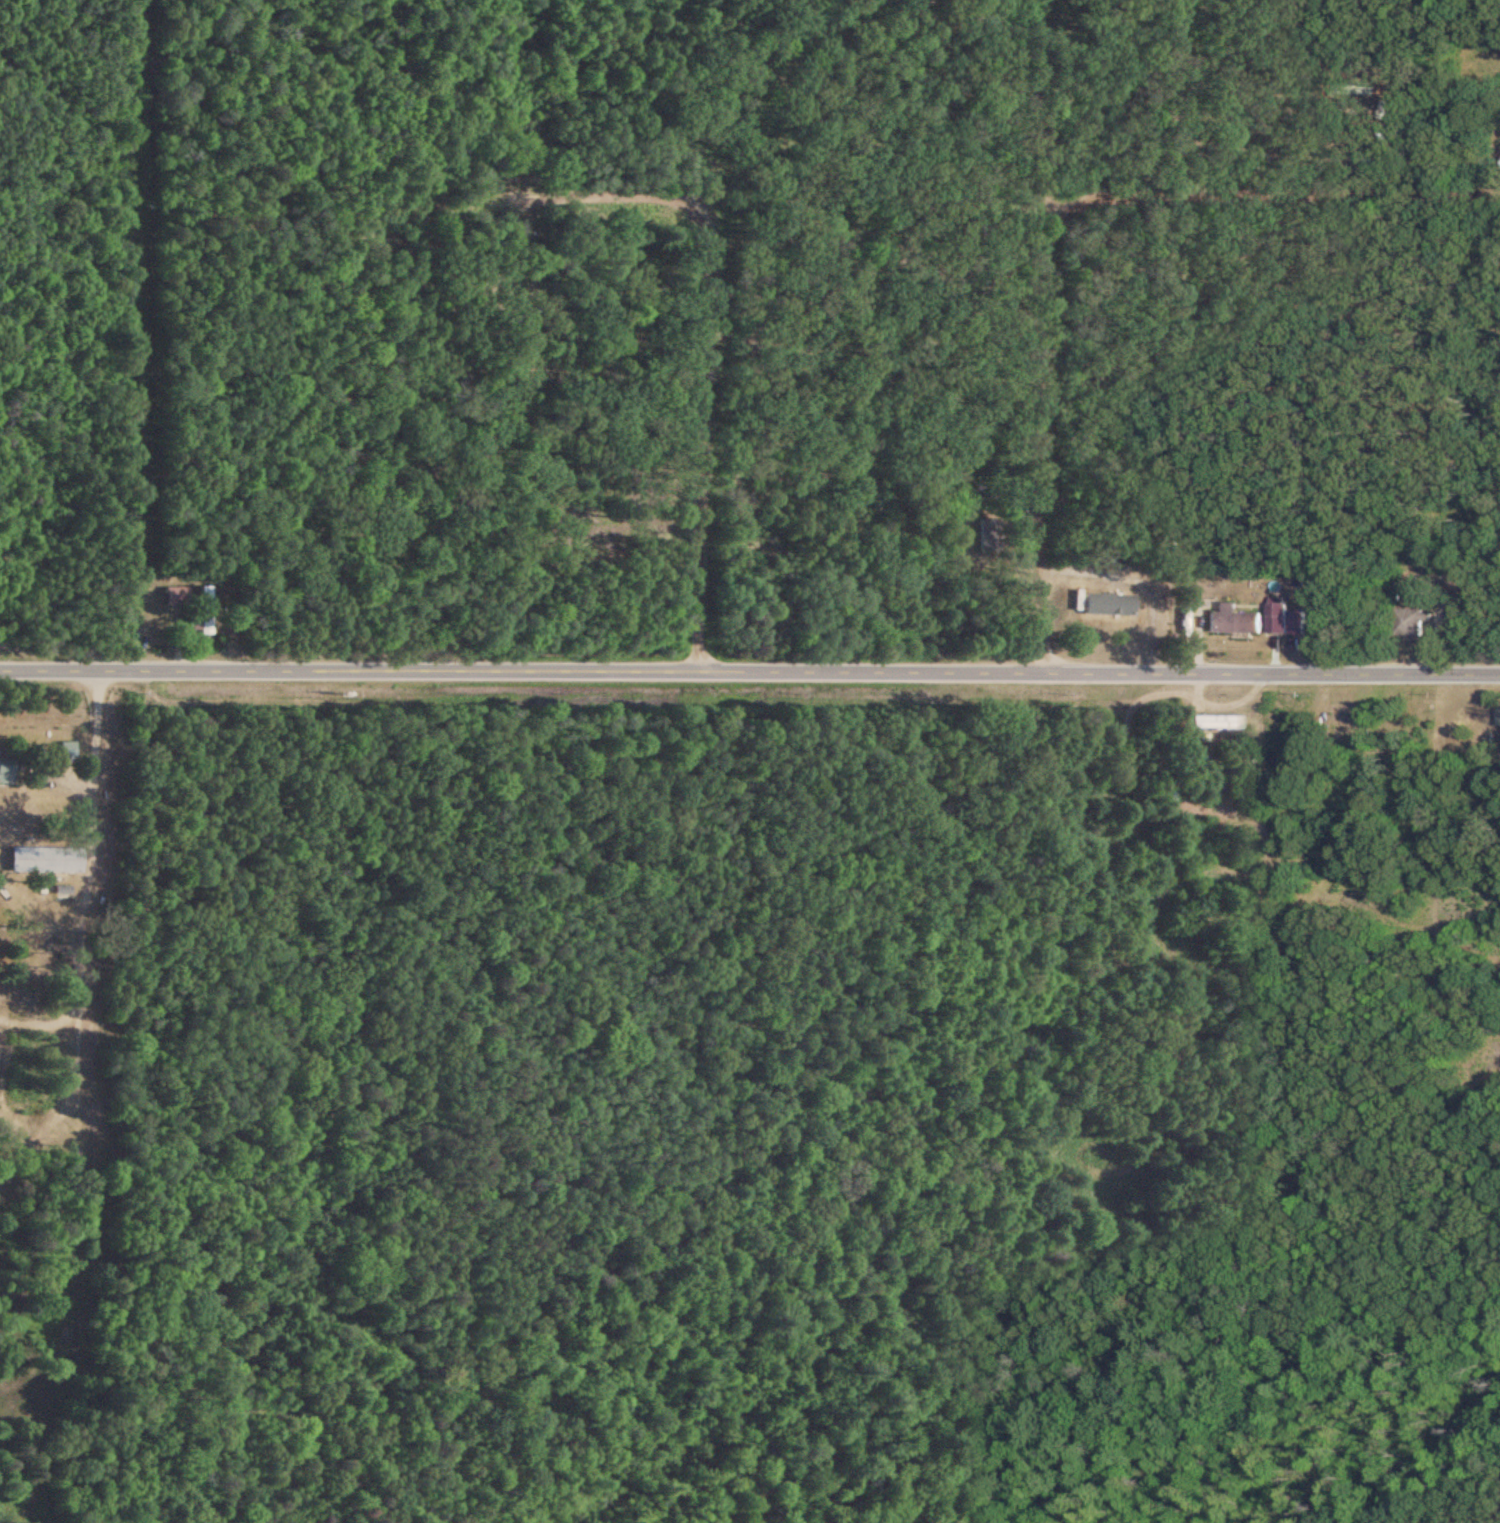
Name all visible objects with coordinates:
road: (1064, 88)
road: (1285, 165)
road: (617, 167)
road: (1102, 226)
road: (701, 334)
road: (1037, 417)
building: (171, 597)
building: (1107, 605)
building: (198, 609)
building: (1229, 620)
road: (749, 671)
building: (1343, 714)
building: (64, 750)
building: (5, 771)
building: (45, 859)

